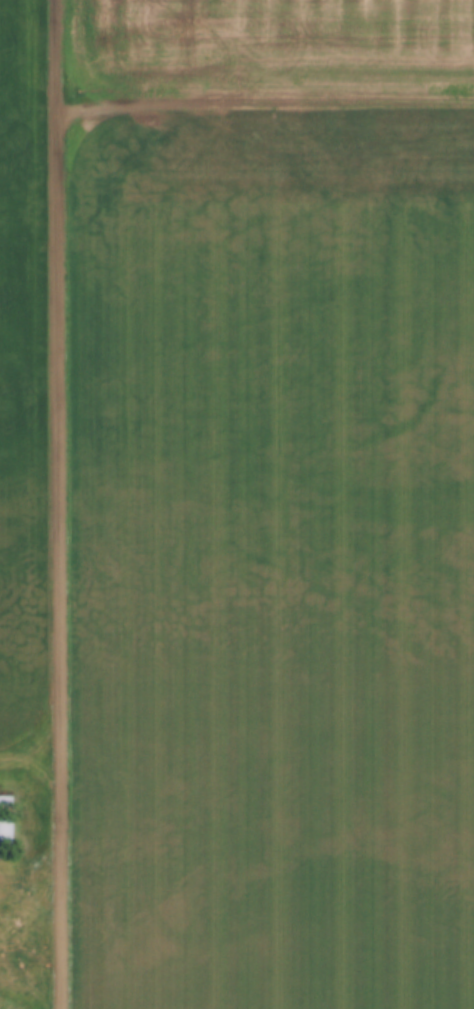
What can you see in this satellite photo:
road: (267, 104)
road: (60, 504)
building: (7, 827)

